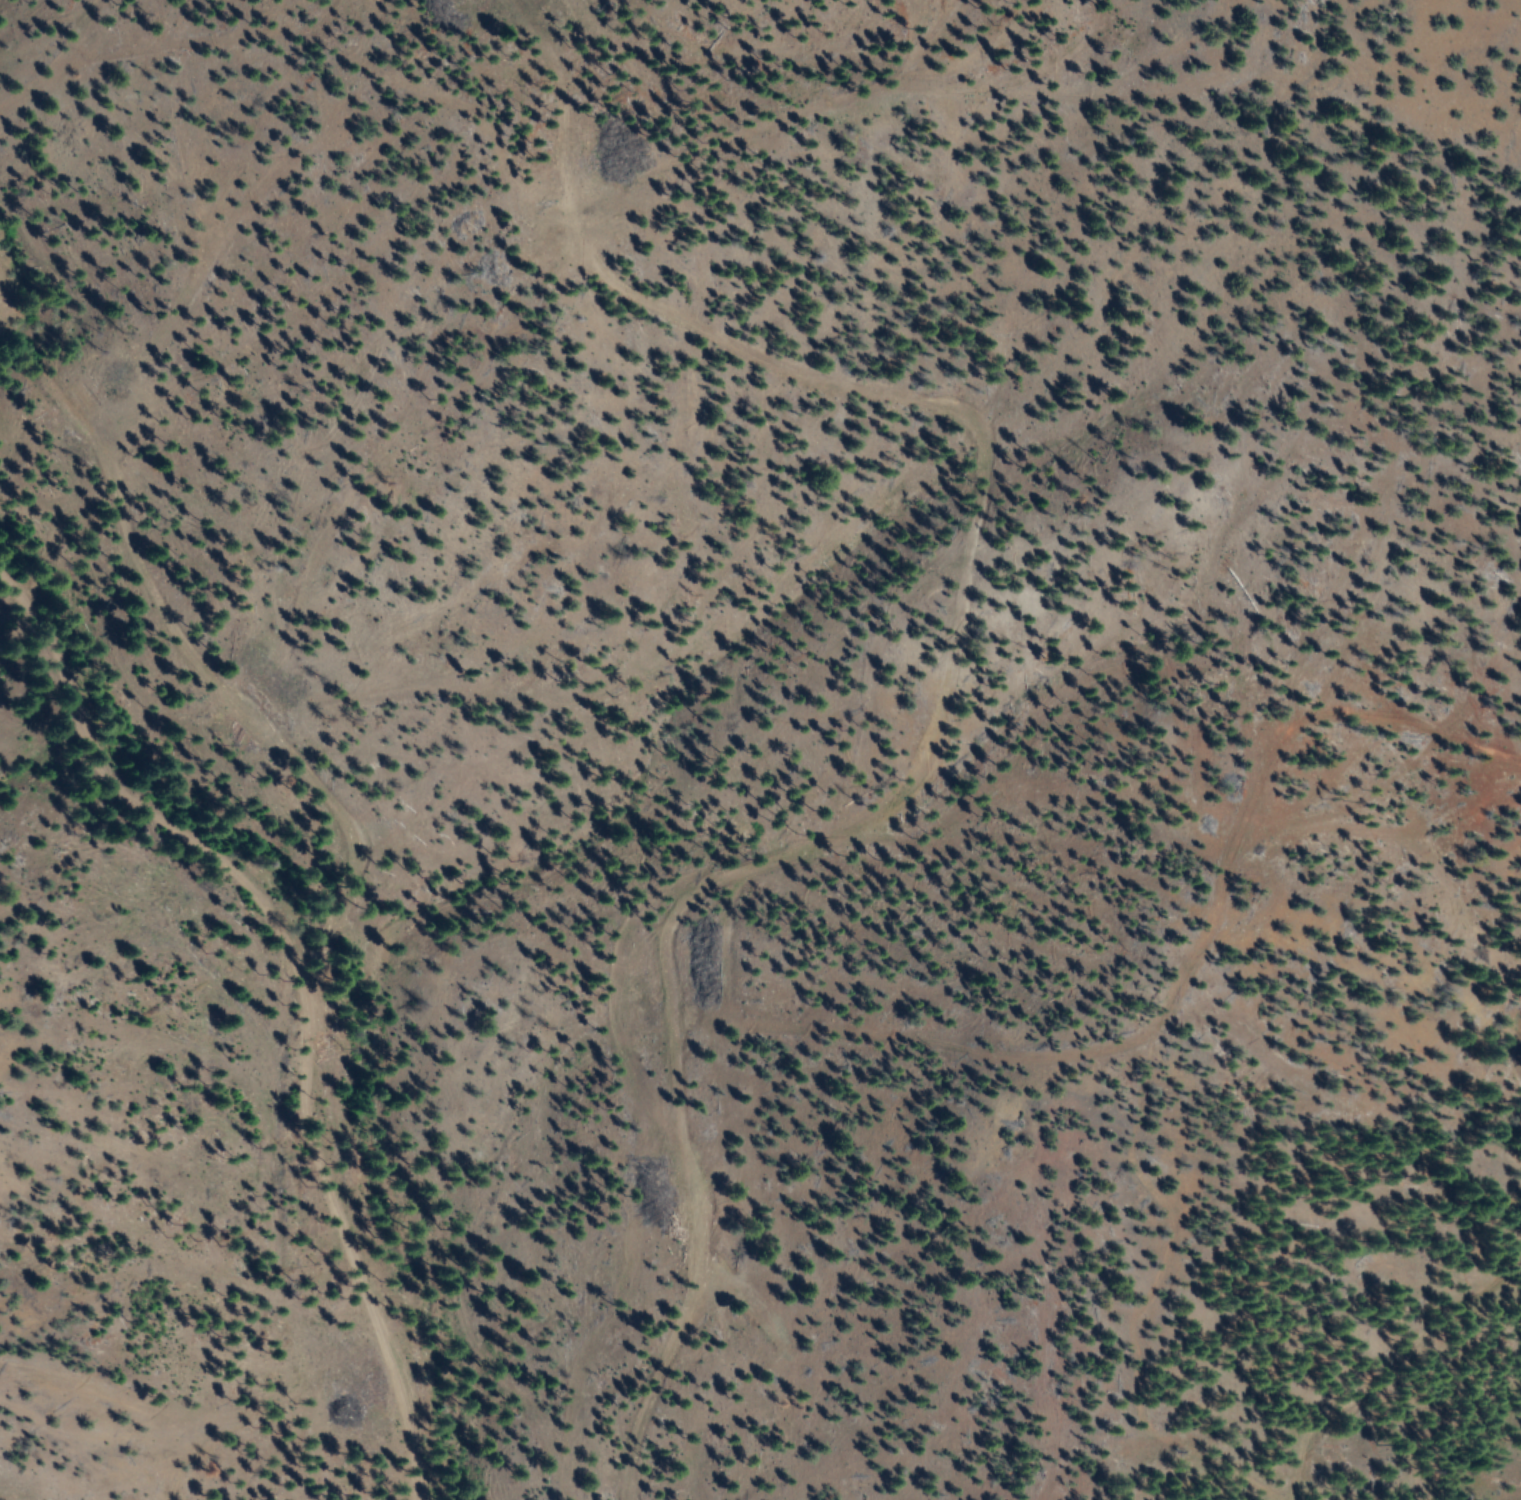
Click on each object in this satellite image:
road: (300, 1045)

